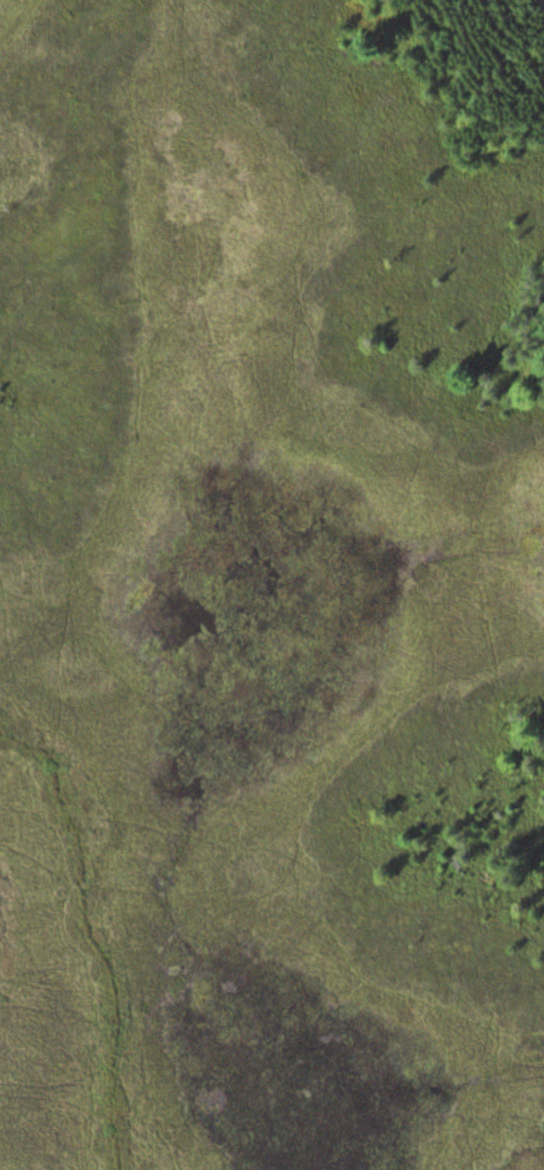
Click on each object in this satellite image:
road: (542, 0)

